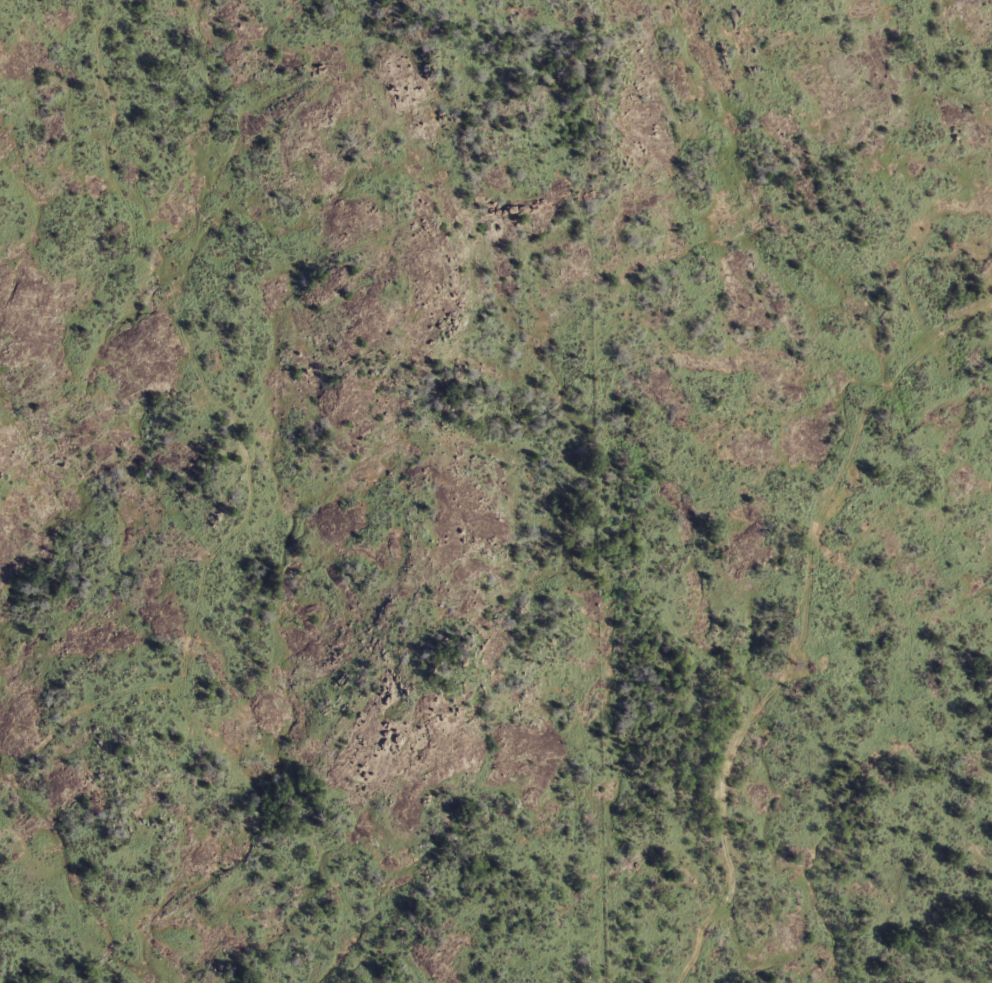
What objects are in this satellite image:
road: (803, 623)

